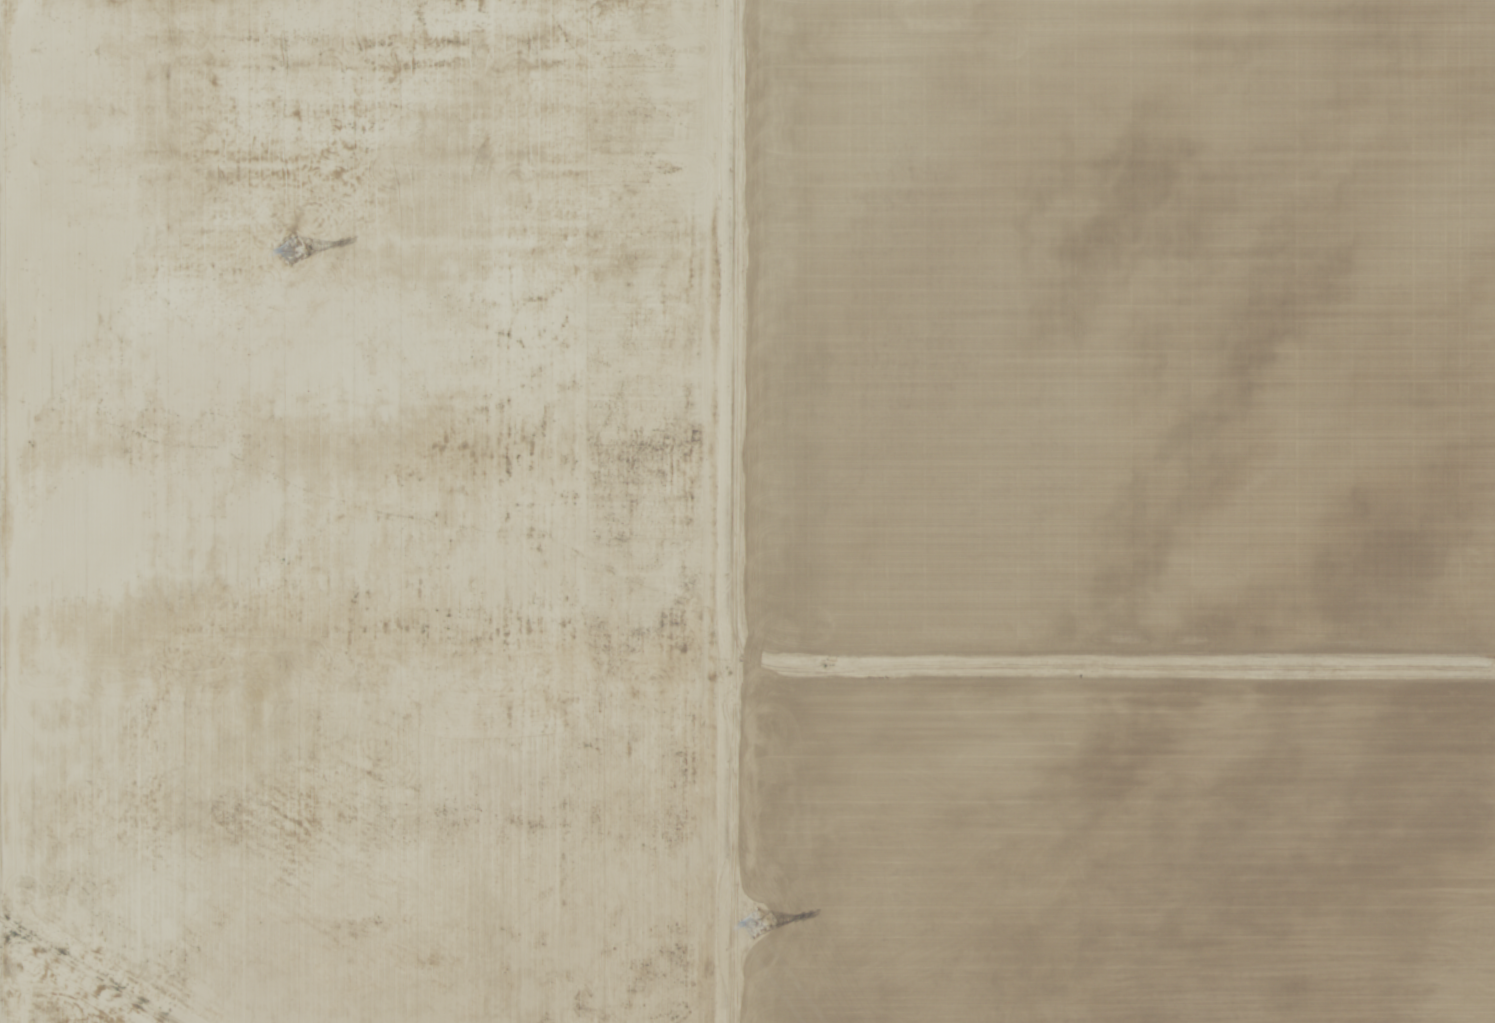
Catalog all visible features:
power tower: (291, 254)
power tower: (751, 927)

